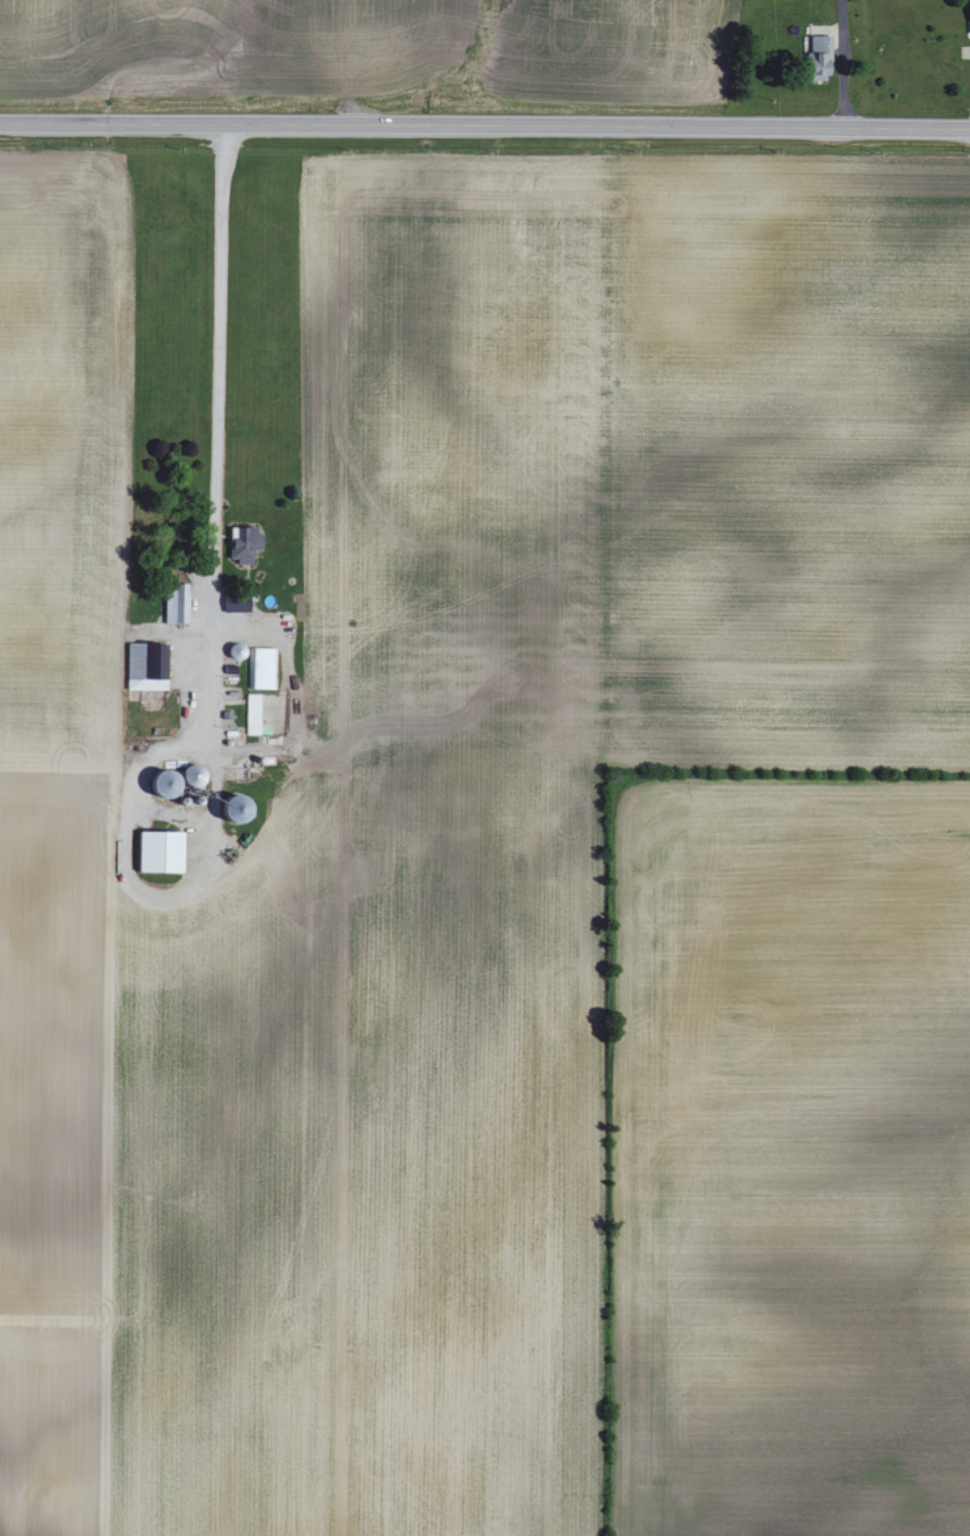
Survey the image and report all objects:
road: (845, 64)
road: (485, 124)
building: (243, 545)
building: (236, 604)
building: (176, 605)
road: (211, 636)
building: (145, 667)
building: (261, 669)
building: (252, 715)
building: (160, 853)

